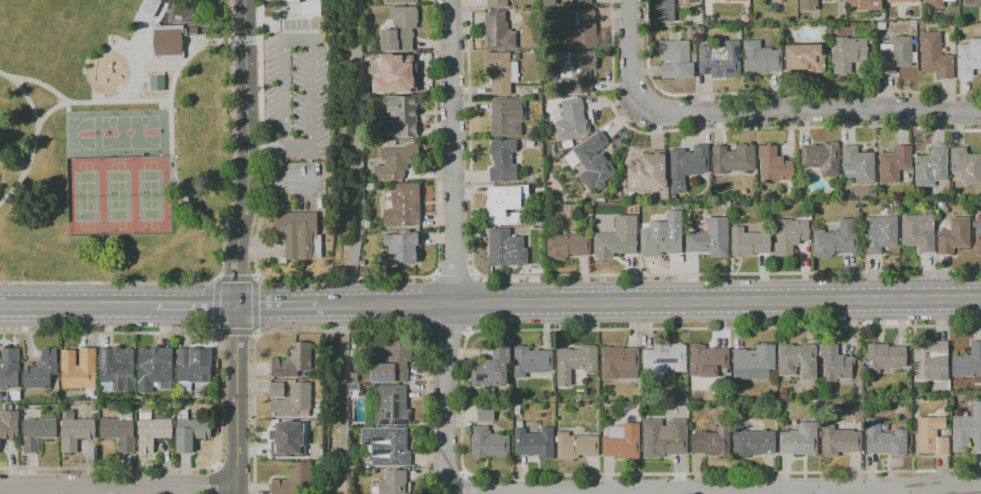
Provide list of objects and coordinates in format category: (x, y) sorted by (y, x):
building: (740, 0)
building: (399, 1)
building: (722, 2)
building: (972, 2)
building: (580, 3)
building: (497, 4)
building: (865, 4)
building: (905, 4)
building: (808, 5)
building: (933, 5)
building: (149, 6)
building: (308, 7)
building: (669, 9)
building: (841, 10)
building: (881, 25)
building: (401, 28)
building: (580, 30)
building: (498, 32)
road: (307, 38)
road: (241, 41)
road: (257, 41)
building: (167, 42)
building: (533, 43)
building: (849, 54)
building: (895, 55)
building: (805, 57)
building: (968, 57)
building: (693, 58)
building: (760, 58)
building: (720, 59)
building: (675, 60)
building: (936, 60)
building: (500, 72)
building: (578, 72)
building: (399, 74)
building: (157, 82)
road: (41, 87)
building: (534, 91)
parking lot: (297, 93)
road: (772, 93)
road: (22, 97)
road: (56, 109)
road: (755, 109)
building: (401, 117)
building: (571, 119)
building: (504, 120)
road: (737, 129)
road: (168, 131)
park: (128, 133)
park: (78, 134)
park: (111, 142)
road: (265, 148)
building: (821, 157)
building: (733, 159)
building: (503, 160)
building: (397, 161)
building: (590, 162)
building: (858, 164)
building: (894, 164)
building: (966, 165)
building: (686, 166)
building: (776, 167)
building: (931, 168)
building: (647, 173)
building: (369, 187)
parking lot: (296, 188)
building: (880, 191)
building: (751, 193)
building: (872, 195)
building: (955, 195)
park: (116, 196)
building: (938, 204)
building: (402, 205)
building: (677, 205)
building: (502, 207)
building: (734, 209)
building: (525, 221)
building: (367, 224)
building: (608, 226)
building: (596, 227)
building: (978, 230)
building: (918, 232)
building: (880, 233)
building: (296, 234)
building: (789, 235)
building: (953, 235)
building: (662, 236)
building: (710, 239)
building: (751, 239)
building: (835, 240)
building: (613, 244)
road: (236, 246)
building: (403, 246)
building: (566, 246)
road: (454, 247)
road: (223, 248)
building: (505, 249)
road: (454, 274)
road: (590, 275)
road: (254, 276)
road: (234, 278)
road: (344, 278)
road: (716, 301)
road: (383, 304)
road: (216, 305)
road: (254, 305)
road: (276, 305)
road: (77, 306)
road: (195, 306)
road: (341, 331)
road: (233, 332)
road: (213, 333)
road: (446, 334)
road: (255, 335)
building: (354, 353)
building: (884, 358)
building: (664, 359)
building: (929, 359)
building: (390, 360)
building: (797, 360)
building: (293, 361)
building: (531, 361)
building: (708, 361)
building: (575, 362)
building: (754, 362)
building: (619, 363)
building: (835, 363)
building: (968, 364)
building: (192, 367)
building: (9, 368)
building: (78, 368)
building: (117, 368)
building: (153, 368)
building: (41, 370)
building: (491, 372)
building: (353, 377)
building: (351, 388)
building: (276, 390)
building: (783, 393)
road: (219, 400)
building: (294, 402)
road: (461, 405)
building: (388, 406)
building: (517, 410)
building: (485, 413)
building: (9, 425)
building: (151, 430)
building: (967, 430)
building: (75, 431)
building: (119, 431)
building: (190, 431)
building: (37, 433)
building: (931, 436)
building: (664, 438)
building: (884, 439)
building: (287, 440)
building: (800, 440)
building: (840, 441)
building: (534, 442)
building: (622, 442)
building: (712, 442)
building: (488, 443)
building: (753, 443)
building: (386, 446)
building: (576, 446)
building: (352, 473)
road: (216, 479)
building: (294, 481)
building: (392, 483)
road: (464, 483)
road: (118, 486)
road: (836, 491)
road: (927, 492)
road: (454, 493)
road: (813, 493)

